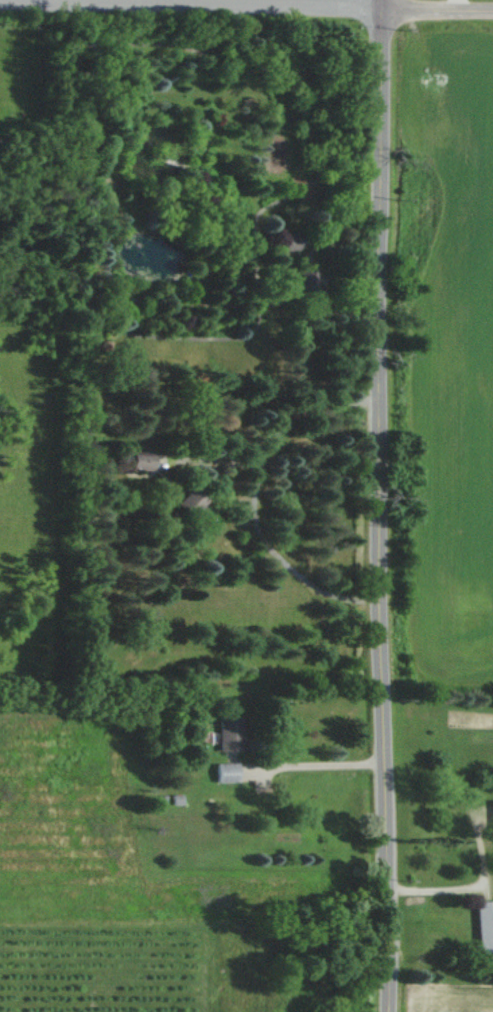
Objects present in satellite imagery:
road: (246, 4)
building: (284, 242)
building: (304, 283)
building: (133, 461)
road: (248, 496)
building: (184, 505)
road: (369, 505)
building: (222, 733)
road: (305, 764)
building: (217, 771)
building: (487, 815)
building: (474, 926)

